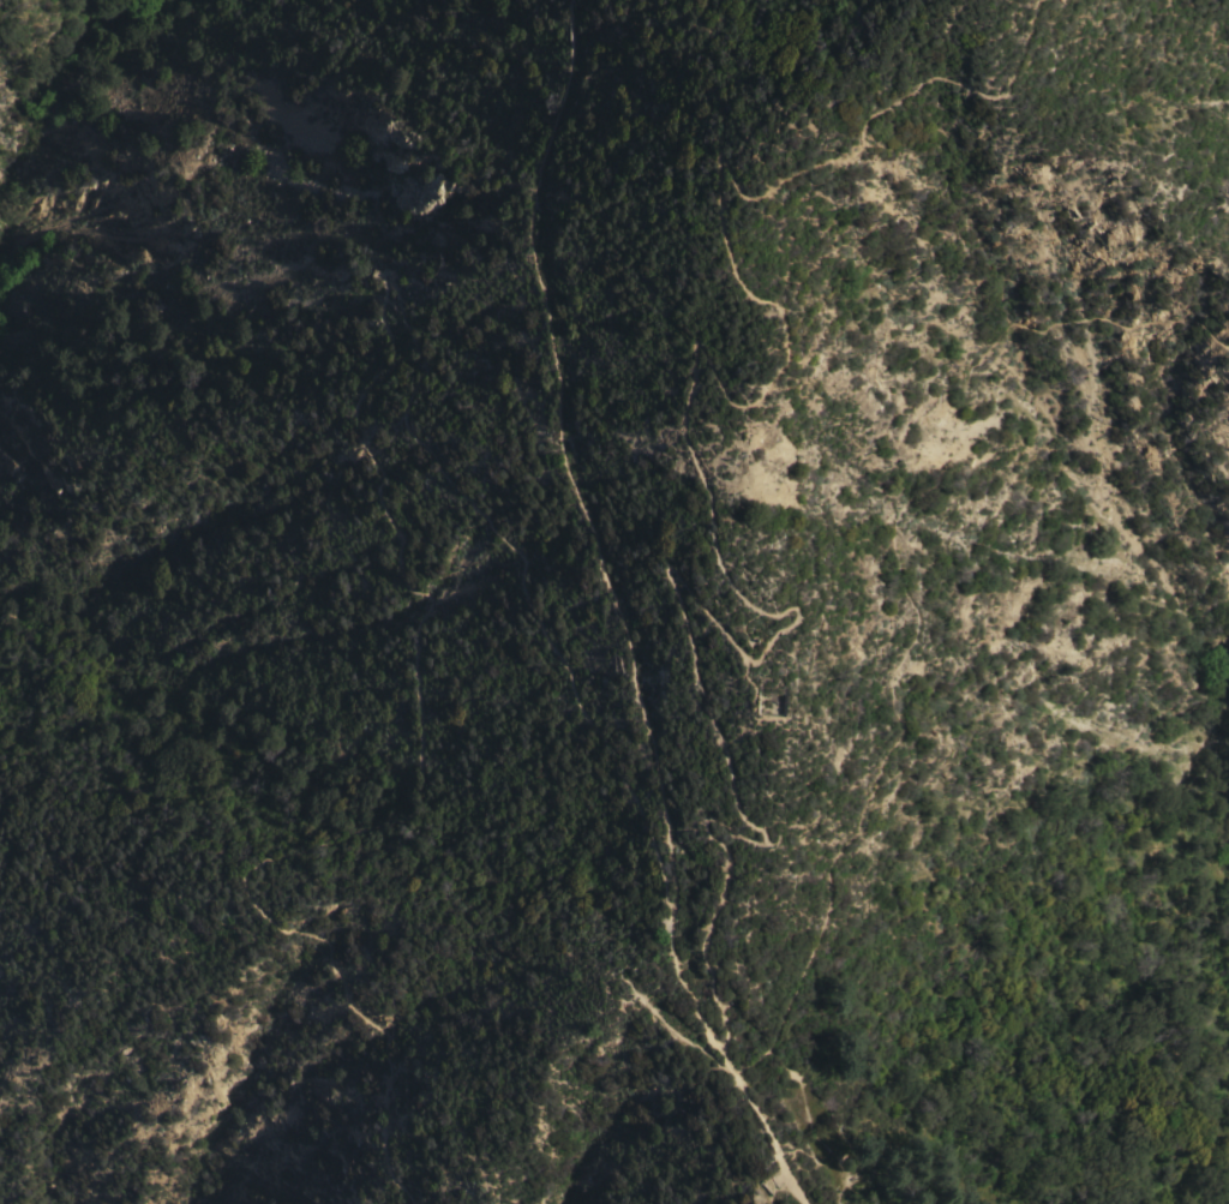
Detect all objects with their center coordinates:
road: (396, 351)
road: (563, 460)
road: (708, 492)
road: (897, 586)

